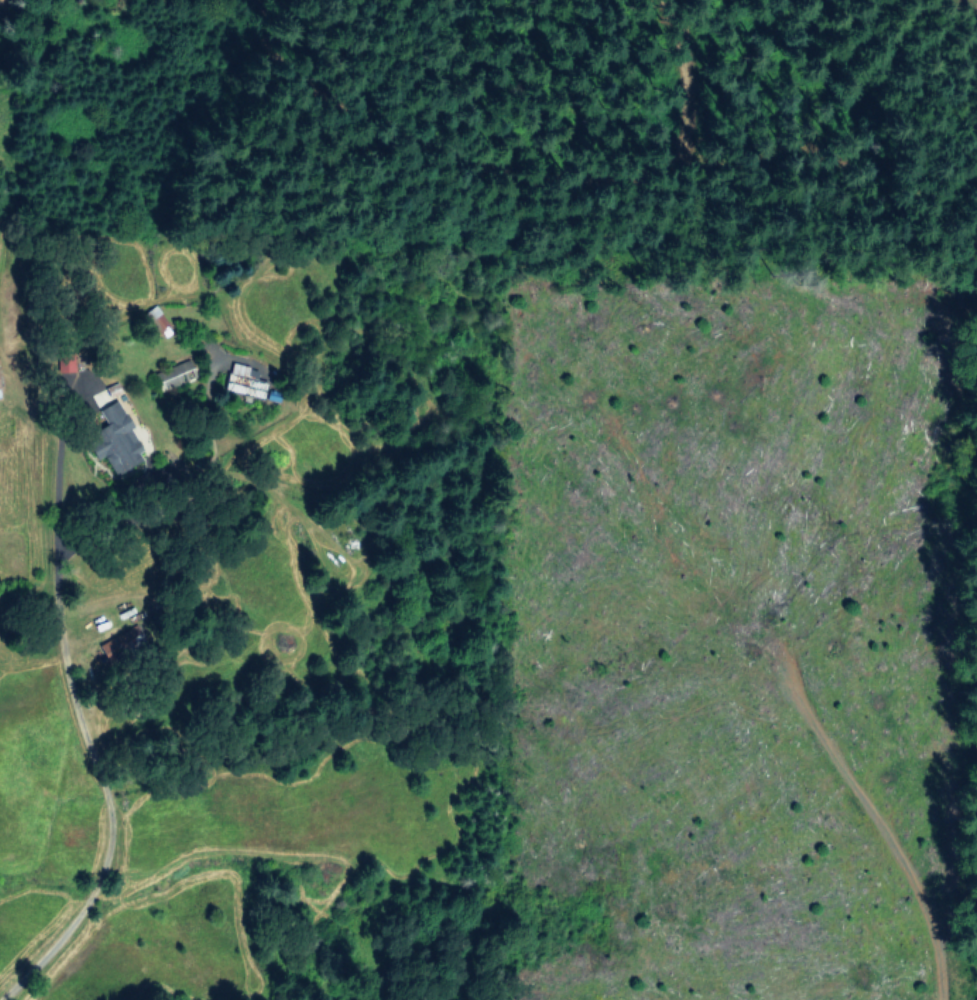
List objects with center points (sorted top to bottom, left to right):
road: (74, 719)

